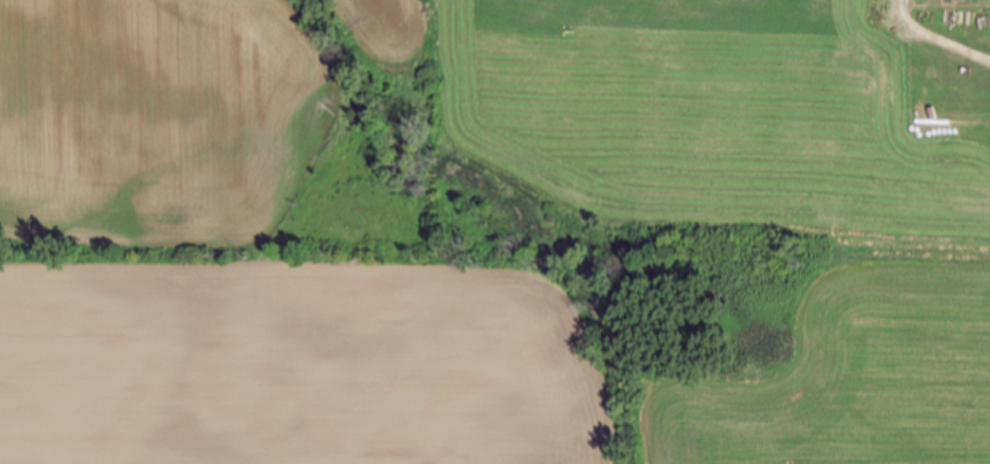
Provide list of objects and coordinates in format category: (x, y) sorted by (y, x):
crop: (691, 109)
crop: (156, 121)
crop: (294, 366)
crop: (851, 380)

